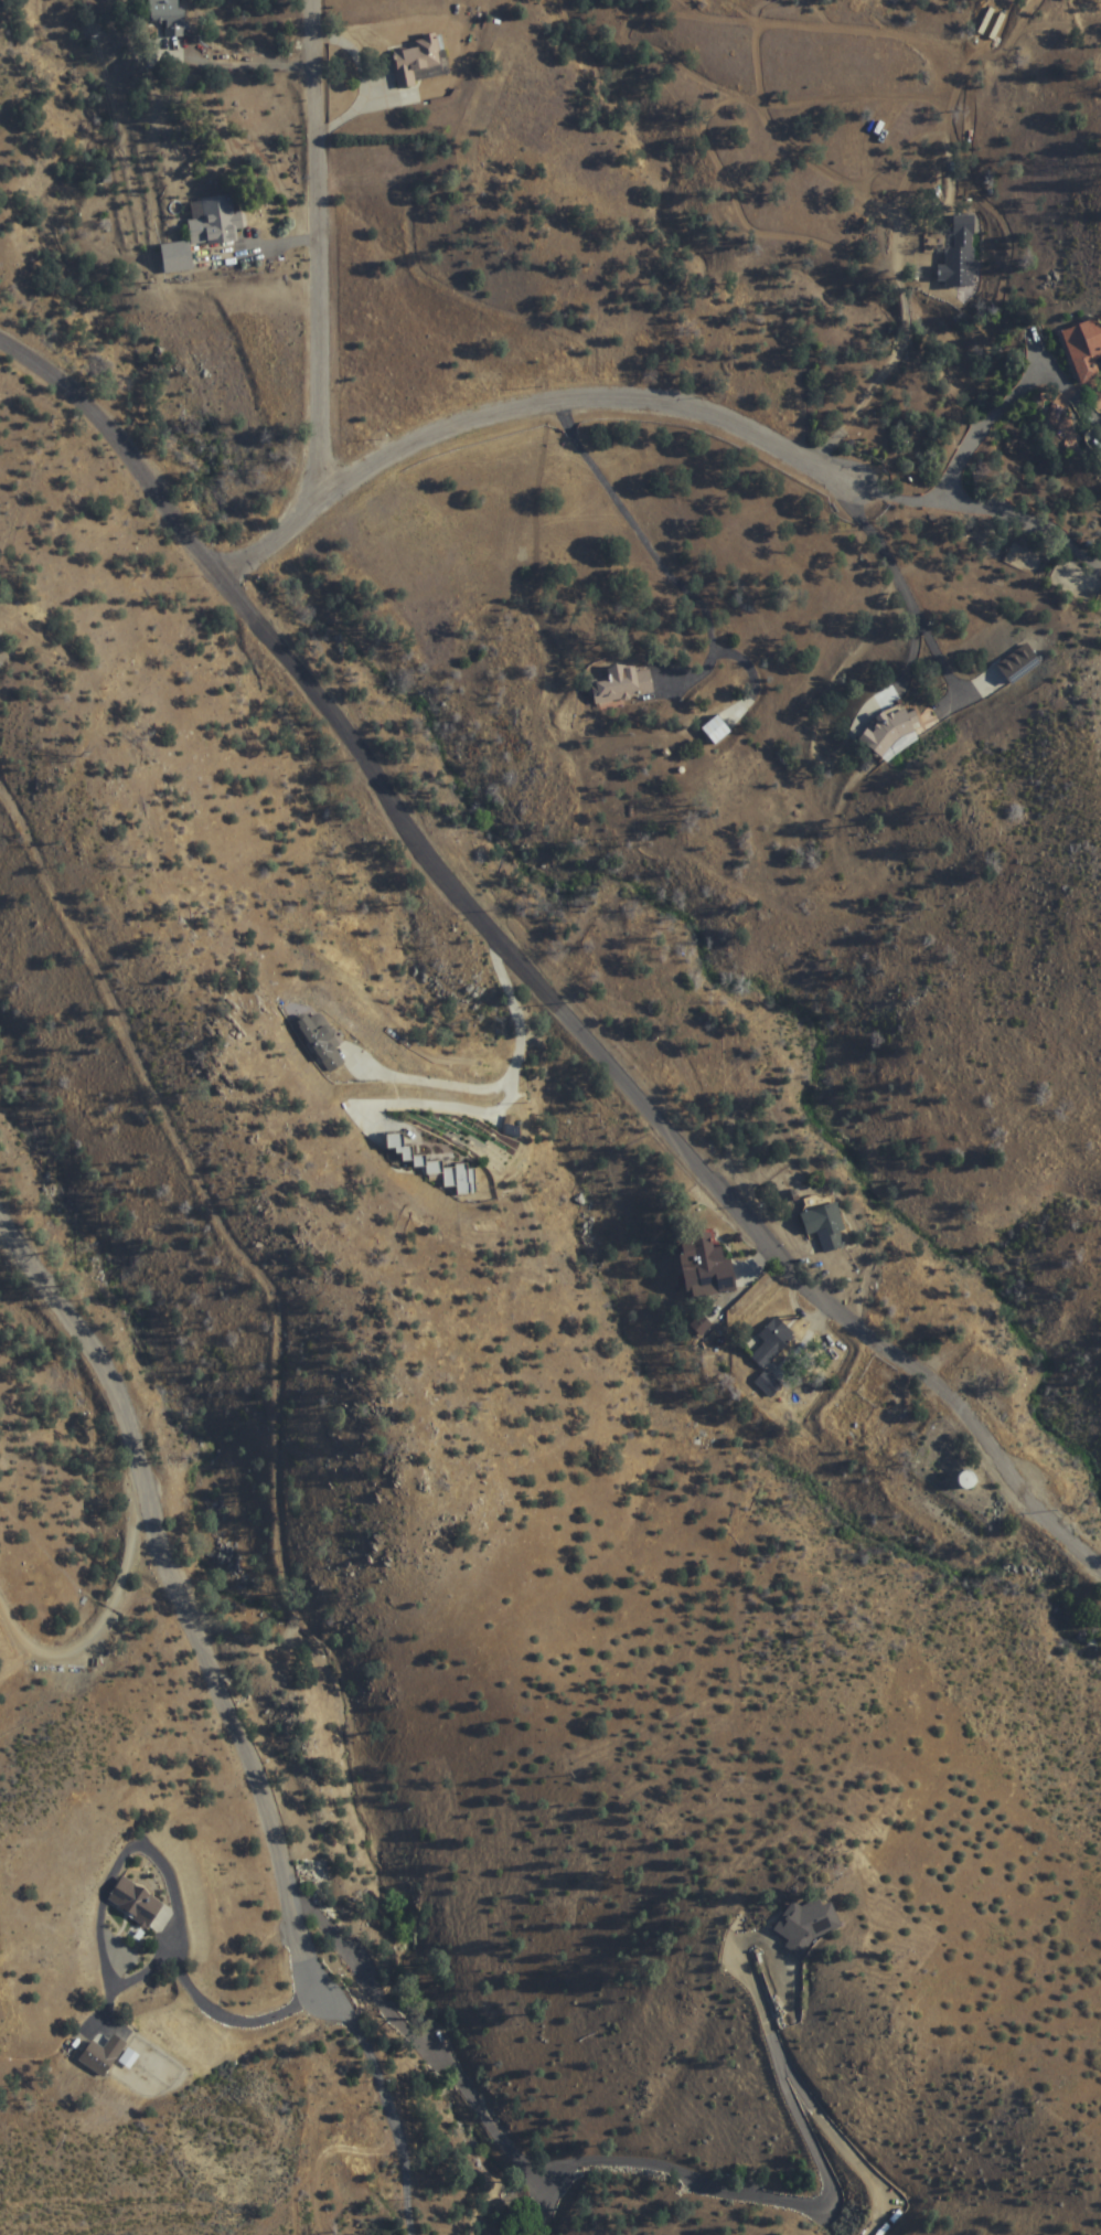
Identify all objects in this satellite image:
building: (168, 15)
building: (418, 60)
building: (205, 232)
building: (956, 264)
road: (438, 283)
building: (1084, 348)
road: (905, 354)
road: (597, 391)
road: (530, 416)
building: (1018, 663)
building: (623, 684)
building: (717, 730)
building: (892, 732)
road: (531, 968)
building: (322, 1041)
building: (763, 1073)
building: (428, 1163)
building: (827, 1224)
building: (705, 1265)
building: (774, 1341)
building: (769, 1383)
road: (148, 1502)
building: (135, 1902)
building: (810, 1924)
building: (103, 2055)

